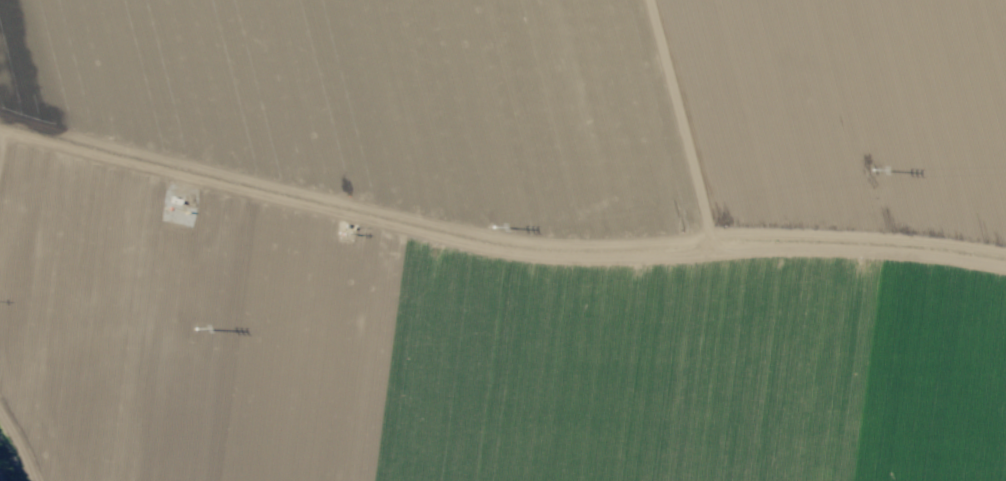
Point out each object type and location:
crop: (503, 240)

